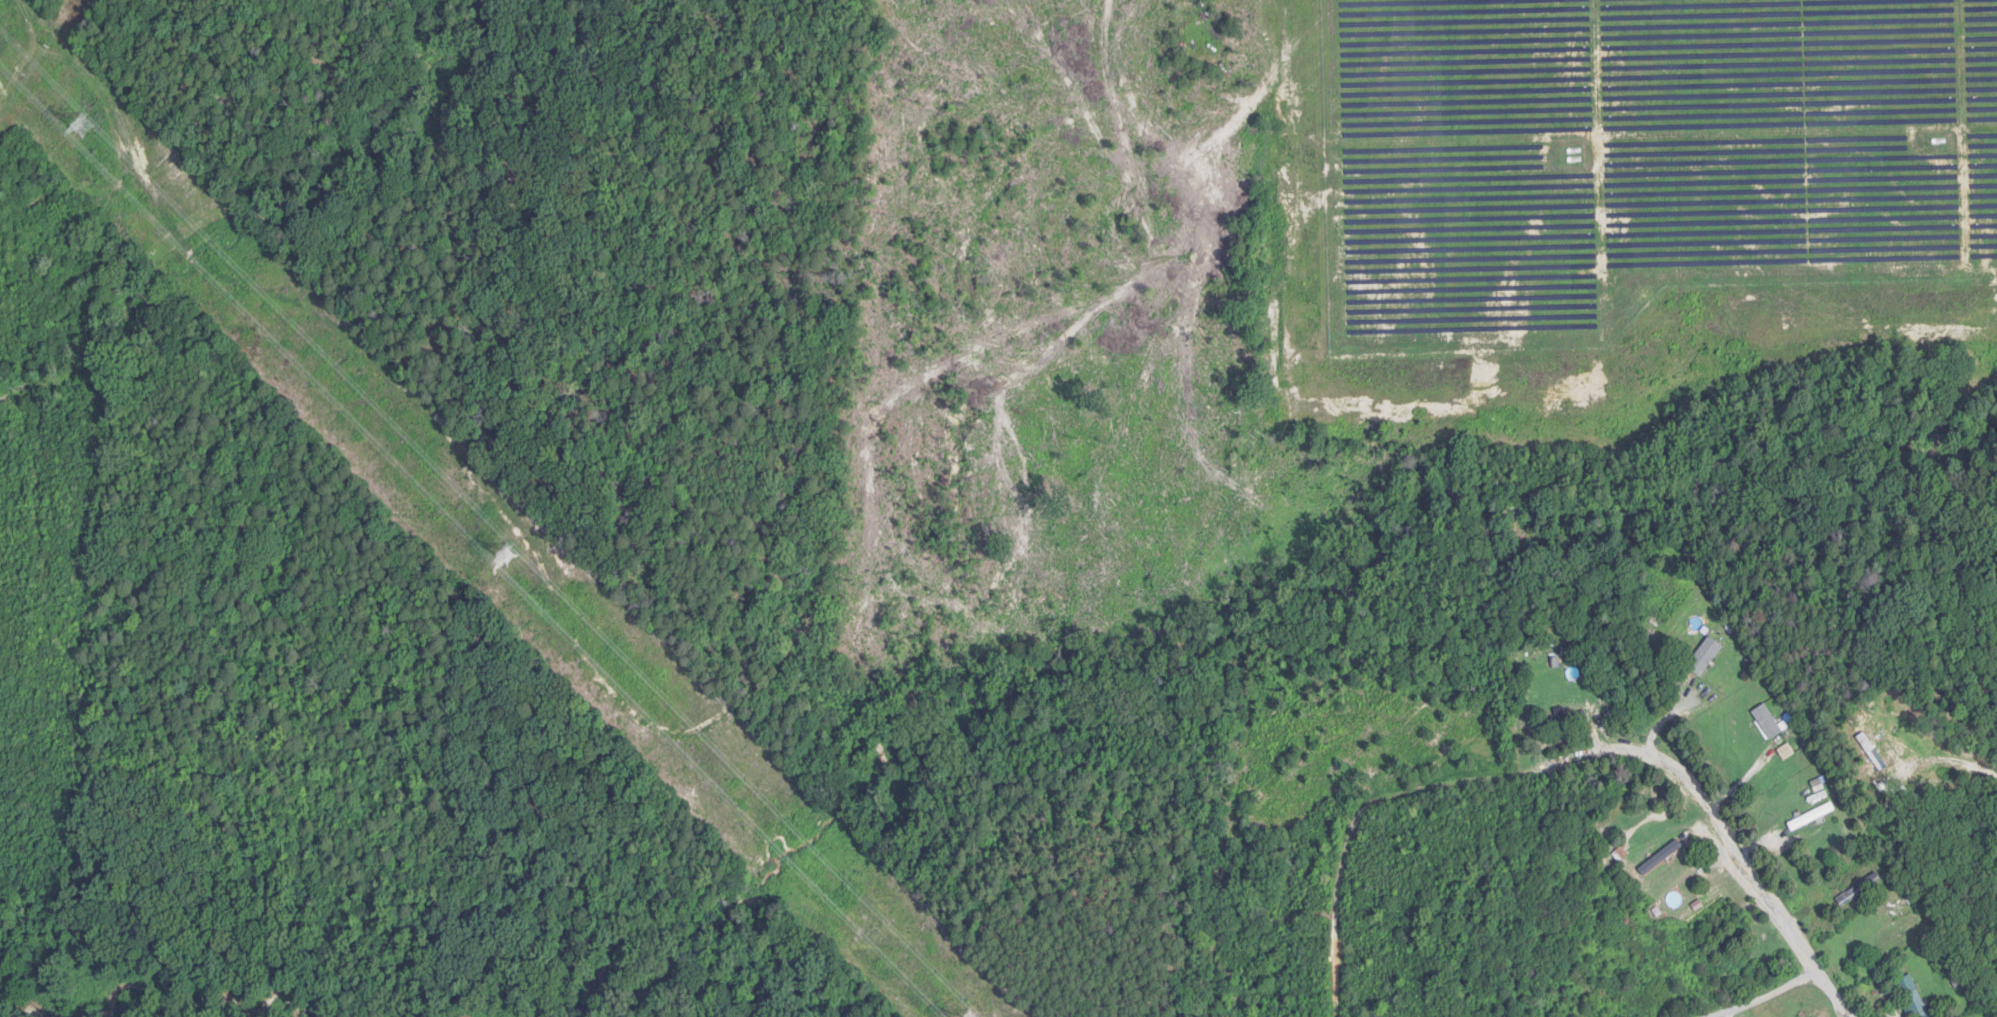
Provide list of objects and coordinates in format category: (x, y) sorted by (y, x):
power tower: (82, 126)
power tower: (510, 557)
building: (1706, 657)
building: (1566, 720)
building: (1768, 722)
road: (1703, 808)
building: (1812, 817)
building: (1661, 858)
building: (1859, 889)
road: (1786, 987)

